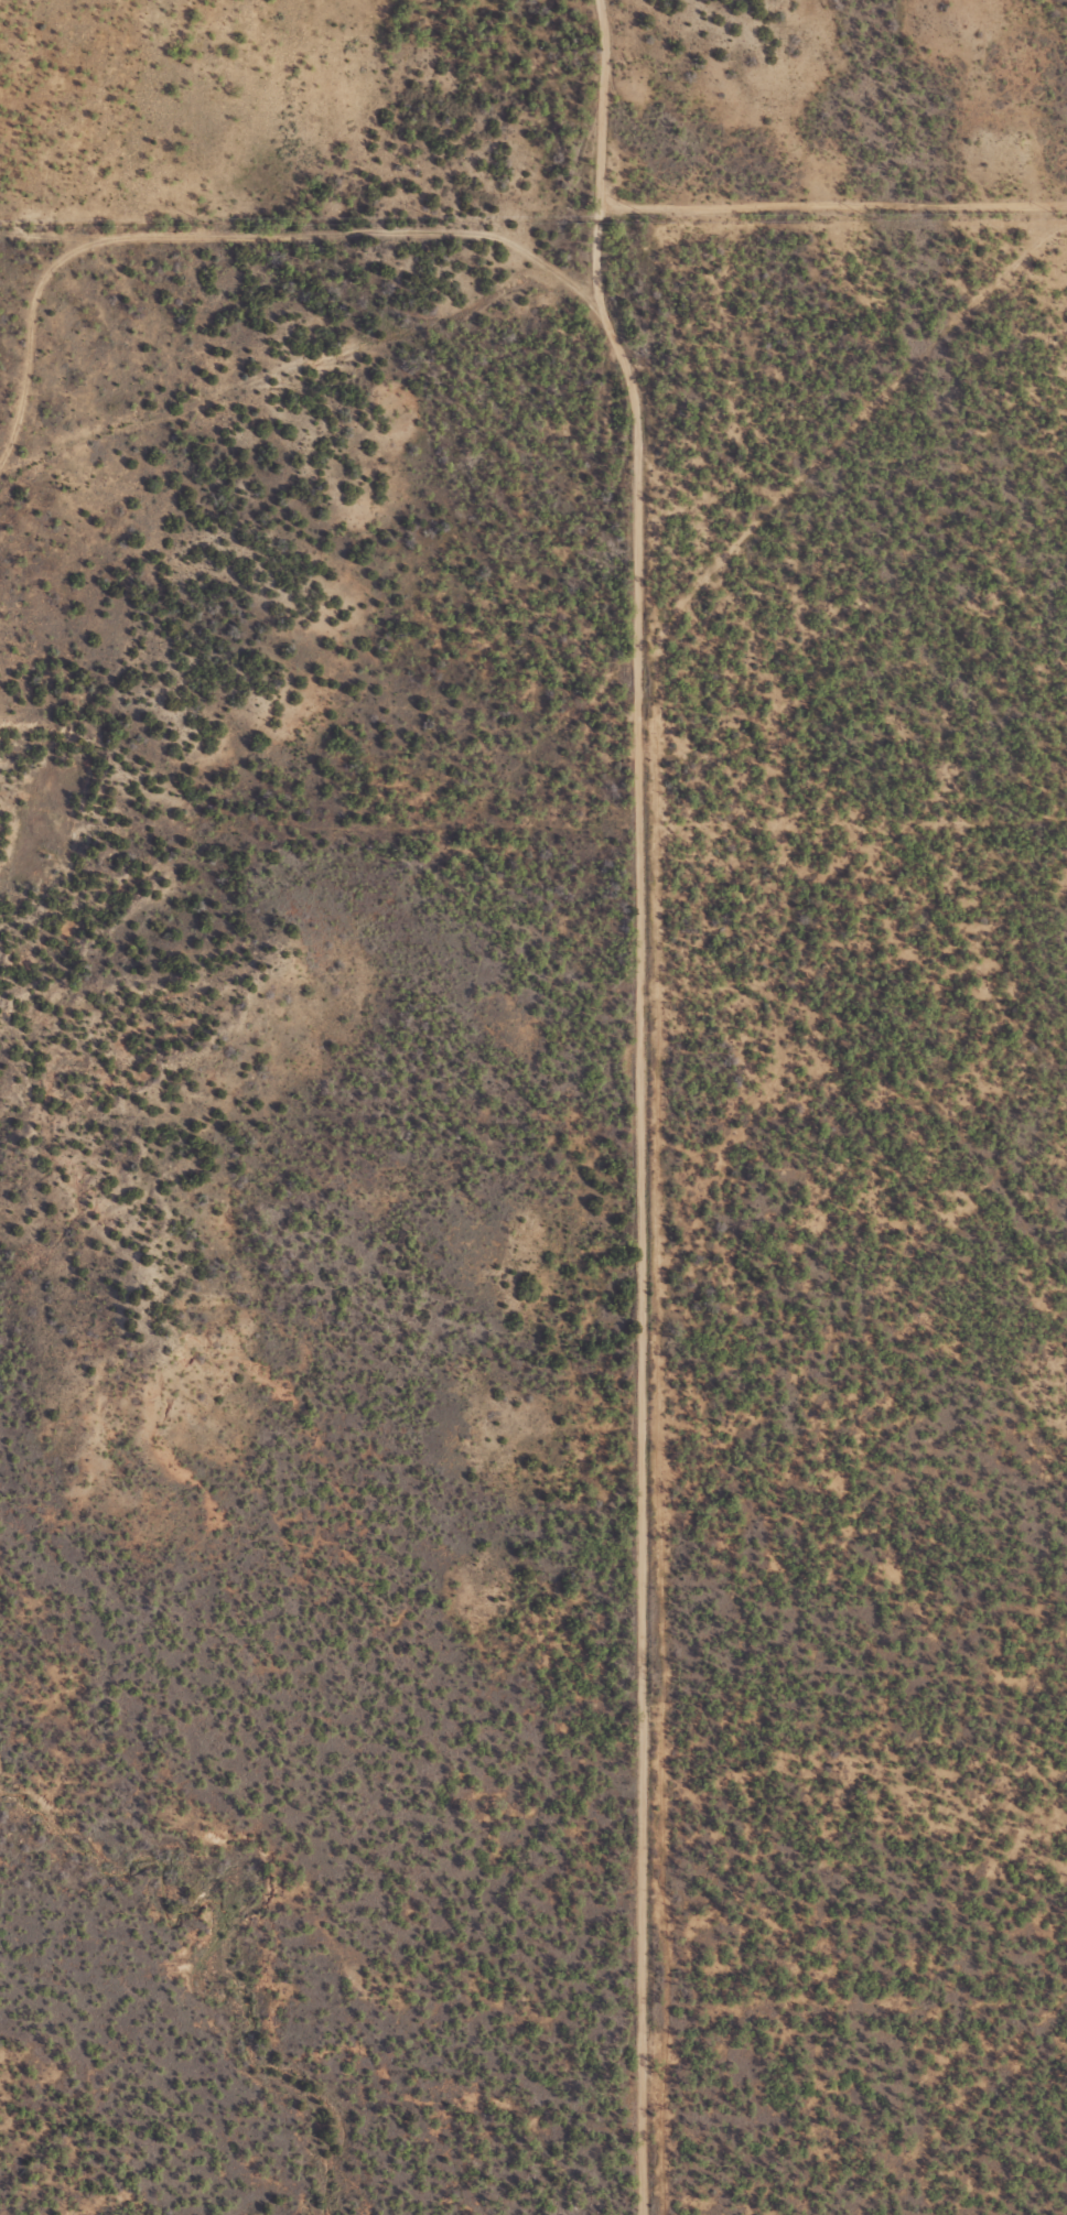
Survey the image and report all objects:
road: (273, 398)
road: (647, 1100)

